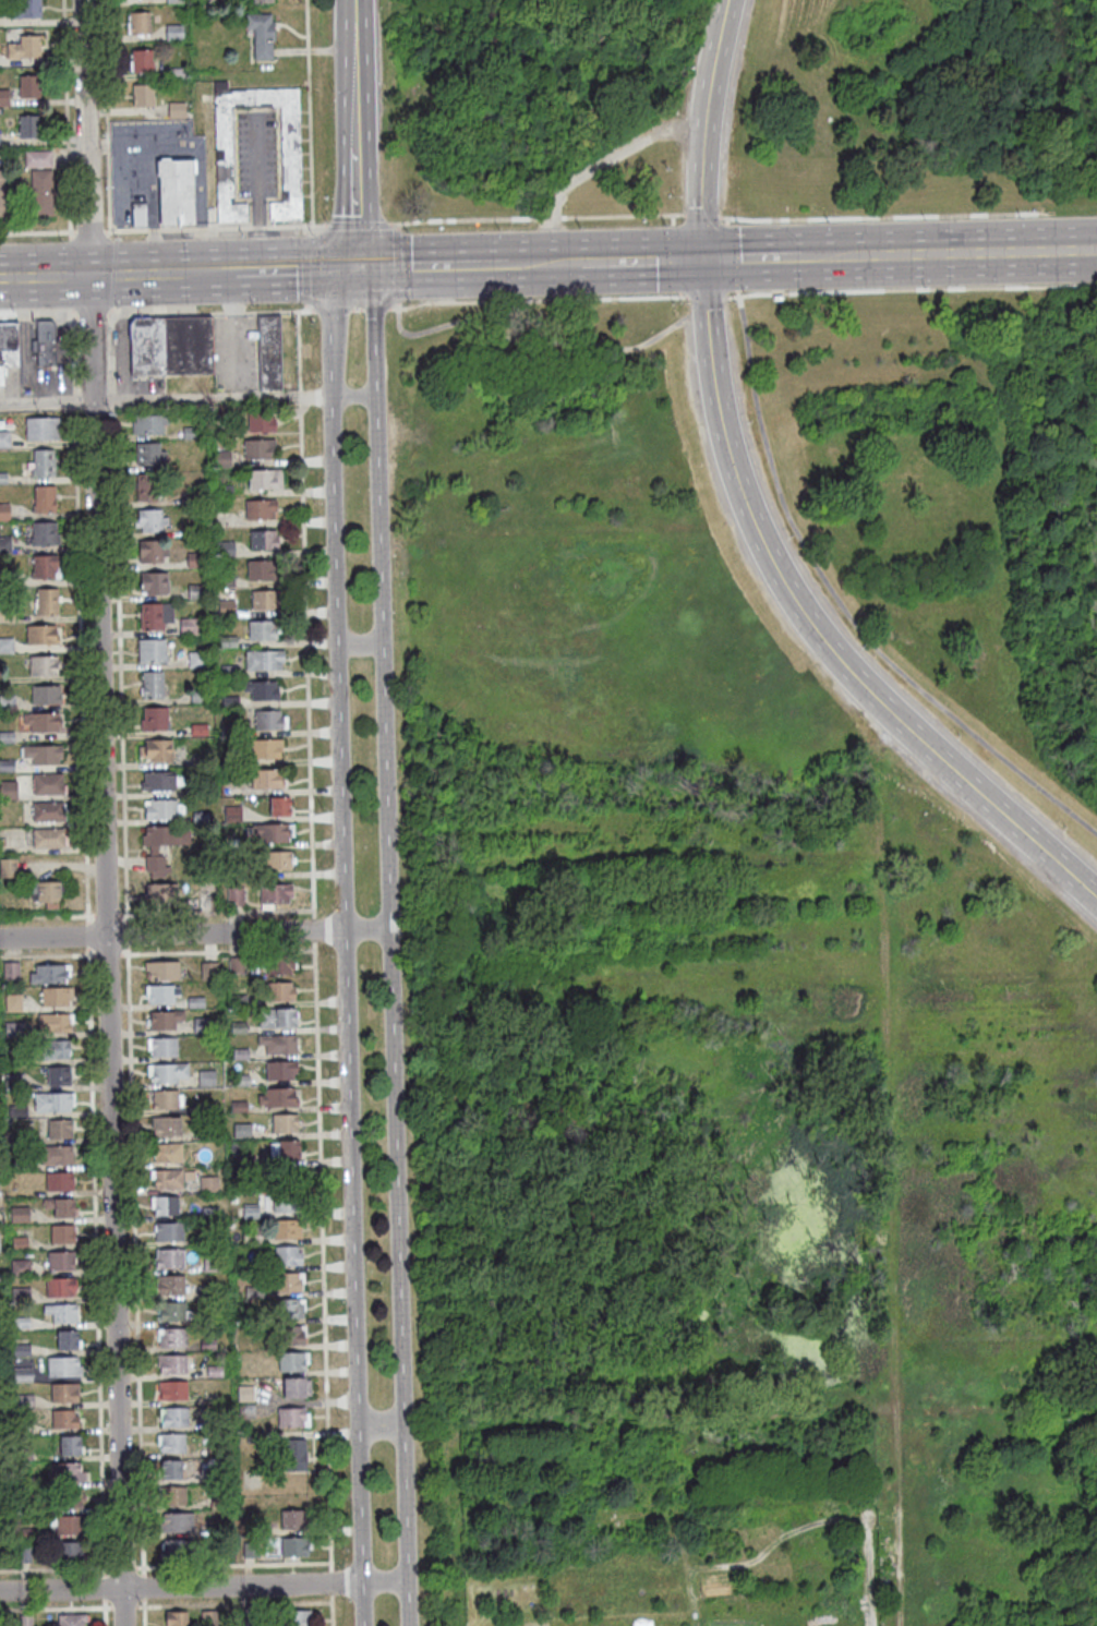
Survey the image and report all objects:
building: (262, 1)
building: (174, 2)
street lamp: (704, 5)
road: (350, 9)
building: (24, 10)
building: (138, 24)
building: (173, 33)
building: (261, 34)
building: (24, 48)
building: (142, 61)
street lamp: (687, 69)
building: (174, 74)
building: (29, 86)
building: (143, 95)
building: (4, 98)
road: (352, 98)
park: (740, 103)
road: (256, 108)
building: (176, 110)
road: (309, 112)
road: (106, 117)
road: (65, 118)
building: (28, 127)
road: (702, 128)
road: (149, 140)
parking lot: (149, 148)
parking lot: (255, 154)
building: (290, 154)
building: (37, 159)
road: (594, 165)
building: (174, 189)
road: (256, 192)
building: (41, 193)
building: (2, 194)
road: (150, 207)
street lamp: (326, 210)
building: (138, 213)
street lamp: (1020, 214)
road: (701, 215)
road: (540, 217)
road: (868, 218)
road: (357, 222)
road: (393, 222)
road: (355, 224)
road: (397, 225)
road: (294, 226)
road: (232, 227)
road: (257, 227)
road: (204, 228)
street lamp: (498, 228)
road: (176, 229)
road: (304, 229)
street lamp: (407, 229)
road: (125, 230)
road: (152, 230)
road: (36, 231)
road: (88, 231)
street lamp: (310, 232)
street lamp: (241, 233)
street lamp: (183, 234)
street lamp: (117, 237)
street lamp: (59, 239)
road: (972, 252)
road: (677, 254)
road: (823, 255)
road: (751, 257)
road: (653, 258)
traffic signals: (702, 258)
road: (544, 261)
road: (397, 264)
road: (460, 264)
road: (396, 267)
road: (304, 268)
road: (313, 268)
traffic signals: (357, 268)
road: (239, 272)
road: (109, 273)
road: (181, 273)
road: (70, 274)
road: (77, 276)
street lamp: (742, 291)
road: (707, 296)
road: (539, 298)
street lamp: (409, 300)
street lamp: (251, 304)
road: (706, 306)
street lamp: (116, 308)
road: (305, 308)
road: (374, 308)
road: (333, 309)
road: (355, 309)
street lamp: (12, 310)
road: (111, 311)
road: (234, 311)
road: (281, 311)
road: (165, 312)
road: (92, 315)
road: (37, 316)
road: (237, 329)
road: (530, 340)
building: (45, 342)
building: (169, 344)
building: (8, 348)
road: (298, 350)
parking lot: (233, 352)
building: (268, 352)
street lamp: (312, 376)
road: (354, 395)
road: (299, 396)
road: (166, 400)
building: (261, 422)
building: (148, 424)
building: (41, 429)
building: (191, 433)
building: (4, 439)
building: (257, 448)
building: (148, 454)
building: (224, 459)
building: (43, 463)
building: (3, 479)
building: (264, 479)
building: (146, 486)
building: (197, 487)
building: (224, 492)
building: (44, 498)
building: (192, 498)
street lamp: (320, 505)
building: (260, 509)
building: (4, 513)
building: (149, 520)
building: (45, 534)
building: (263, 540)
building: (5, 545)
building: (225, 550)
building: (152, 552)
building: (194, 561)
building: (46, 567)
building: (261, 569)
building: (7, 579)
building: (226, 581)
building: (154, 583)
building: (195, 591)
building: (265, 600)
building: (48, 602)
road: (843, 604)
building: (226, 609)
building: (7, 616)
building: (156, 616)
building: (194, 626)
road: (812, 628)
building: (262, 630)
building: (41, 635)
building: (228, 642)
road: (360, 642)
building: (7, 647)
building: (152, 651)
street lamp: (318, 654)
road: (306, 657)
building: (196, 660)
building: (264, 660)
building: (44, 666)
building: (229, 672)
building: (153, 685)
building: (262, 690)
building: (46, 696)
building: (198, 698)
building: (229, 702)
building: (8, 703)
building: (154, 720)
building: (268, 720)
building: (43, 722)
building: (198, 731)
building: (230, 733)
building: (7, 737)
building: (266, 749)
building: (156, 751)
building: (43, 755)
building: (200, 763)
building: (7, 767)
building: (265, 780)
road: (100, 782)
building: (157, 782)
building: (48, 784)
building: (9, 791)
building: (198, 791)
building: (278, 807)
street lamp: (321, 807)
building: (159, 810)
building: (48, 811)
building: (232, 814)
building: (200, 818)
building: (270, 833)
building: (49, 839)
building: (222, 842)
building: (2, 843)
building: (160, 844)
road: (763, 854)
building: (278, 860)
building: (8, 868)
building: (160, 893)
building: (48, 894)
building: (275, 894)
building: (234, 896)
building: (204, 900)
road: (159, 913)
road: (313, 929)
road: (194, 934)
road: (87, 942)
road: (343, 943)
road: (389, 944)
street lamp: (325, 952)
road: (157, 953)
park: (757, 961)
building: (279, 965)
building: (237, 966)
building: (162, 971)
building: (10, 972)
building: (209, 972)
building: (48, 975)
building: (280, 992)
building: (161, 995)
building: (57, 997)
building: (238, 1001)
building: (195, 1003)
building: (13, 1004)
building: (276, 1019)
building: (165, 1021)
building: (55, 1023)
building: (202, 1026)
building: (238, 1028)
building: (14, 1031)
building: (278, 1044)
building: (162, 1047)
building: (55, 1050)
building: (240, 1055)
building: (280, 1071)
building: (168, 1073)
building: (59, 1076)
building: (206, 1080)
building: (240, 1081)
building: (14, 1083)
street lamp: (331, 1097)
building: (277, 1098)
building: (167, 1100)
building: (53, 1103)
building: (239, 1107)
building: (207, 1108)
building: (17, 1112)
building: (285, 1124)
building: (167, 1127)
building: (60, 1130)
building: (242, 1131)
building: (202, 1134)
building: (5, 1140)
building: (285, 1151)
building: (168, 1154)
building: (57, 1156)
building: (240, 1160)
building: (19, 1166)
building: (168, 1180)
building: (60, 1182)
building: (208, 1185)
road: (891, 1203)
building: (285, 1204)
building: (165, 1206)
building: (61, 1208)
building: (251, 1213)
building: (210, 1214)
building: (20, 1216)
building: (287, 1230)
building: (169, 1232)
building: (62, 1236)
building: (252, 1236)
building: (212, 1240)
building: (20, 1243)
road: (322, 1255)
building: (287, 1257)
street lamp: (333, 1257)
building: (170, 1260)
building: (61, 1262)
building: (212, 1267)
building: (21, 1268)
building: (289, 1282)
building: (171, 1286)
building: (60, 1288)
building: (207, 1292)
building: (254, 1292)
building: (22, 1296)
building: (290, 1309)
building: (172, 1312)
building: (62, 1314)
building: (255, 1318)
building: (217, 1320)
building: (21, 1324)
building: (291, 1336)
building: (173, 1339)
building: (69, 1341)
building: (208, 1346)
building: (22, 1351)
building: (293, 1362)
building: (172, 1365)
building: (64, 1368)
building: (215, 1372)
building: (23, 1375)
building: (297, 1388)
building: (173, 1392)
building: (64, 1394)
building: (246, 1396)
building: (25, 1402)
building: (246, 1412)
street lamp: (339, 1414)
building: (174, 1418)
building: (293, 1419)
building: (64, 1421)
building: (215, 1422)
road: (378, 1425)
building: (24, 1430)
building: (255, 1437)
building: (172, 1444)
building: (70, 1447)
building: (216, 1452)
building: (25, 1454)
building: (296, 1456)
building: (0, 1457)
building: (171, 1471)
building: (67, 1473)
building: (213, 1478)
building: (26, 1483)
building: (174, 1497)
building: (70, 1499)
building: (218, 1505)
building: (1, 1509)
building: (25, 1509)
crop: (673, 1518)
building: (294, 1520)
building: (178, 1523)
building: (70, 1527)
building: (217, 1527)
road: (335, 1532)
building: (28, 1534)
building: (296, 1547)
building: (178, 1551)
building: (251, 1551)
building: (69, 1553)
building: (25, 1555)
road: (470, 1555)
road: (728, 1558)
road: (233, 1564)
road: (123, 1567)
road: (55, 1569)
road: (143, 1570)
road: (330, 1581)
road: (383, 1581)
road: (104, 1586)
road: (121, 1587)
road: (143, 1587)
road: (180, 1587)
street lamp: (140, 1602)
road: (105, 1603)
road: (143, 1603)
road: (234, 1604)
street lamp: (346, 1604)
road: (124, 1606)
road: (55, 1609)
road: (331, 1610)
road: (122, 1617)
building: (253, 1617)
building: (208, 1618)
building: (297, 1618)
building: (178, 1619)
building: (72, 1621)
building: (26, 1622)
building: (2, 1623)

